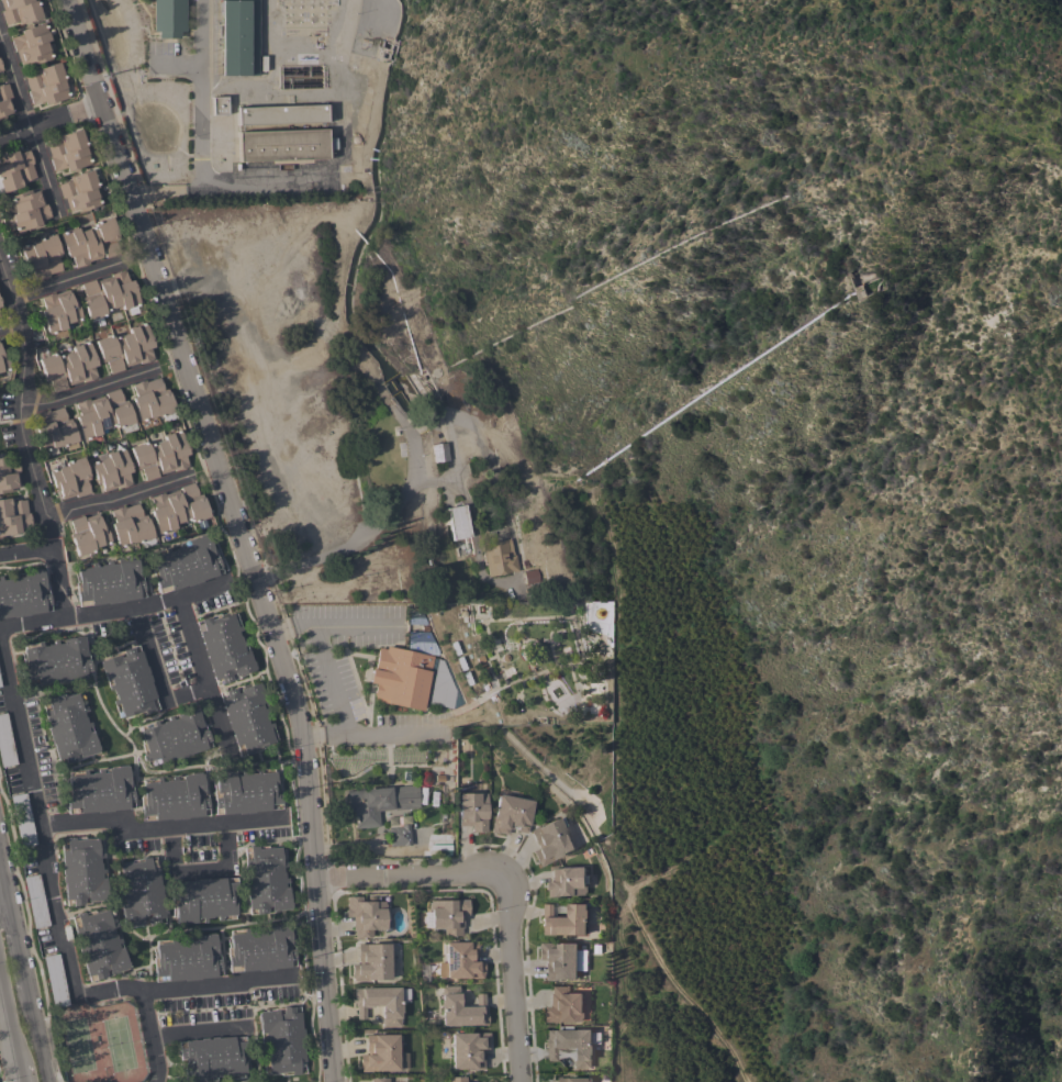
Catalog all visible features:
building: (20, 11)
building: (168, 18)
building: (237, 36)
building: (31, 44)
building: (0, 68)
building: (46, 85)
building: (4, 100)
building: (219, 104)
building: (281, 114)
road: (47, 118)
road: (26, 131)
building: (282, 144)
building: (68, 150)
road: (195, 158)
building: (14, 169)
building: (265, 170)
building: (79, 190)
road: (160, 190)
building: (27, 209)
building: (90, 242)
building: (42, 256)
road: (67, 282)
building: (108, 293)
building: (58, 311)
building: (0, 314)
road: (10, 326)
building: (125, 347)
building: (2, 361)
building: (68, 366)
road: (88, 389)
road: (20, 395)
building: (150, 399)
building: (101, 413)
building: (54, 430)
building: (439, 451)
building: (160, 455)
building: (112, 469)
building: (8, 473)
building: (70, 478)
road: (118, 493)
building: (177, 507)
building: (13, 515)
building: (457, 522)
building: (131, 526)
building: (87, 533)
road: (236, 533)
road: (345, 545)
building: (499, 557)
road: (53, 559)
building: (185, 564)
building: (530, 576)
building: (109, 581)
building: (22, 593)
road: (147, 604)
road: (34, 622)
road: (355, 624)
building: (223, 647)
building: (501, 656)
road: (324, 657)
building: (55, 660)
road: (153, 674)
road: (201, 677)
building: (401, 677)
building: (128, 681)
building: (246, 716)
building: (68, 728)
crop: (843, 729)
road: (368, 732)
building: (175, 737)
building: (5, 743)
building: (99, 790)
building: (245, 791)
building: (174, 797)
building: (379, 802)
building: (472, 811)
building: (510, 814)
building: (22, 819)
road: (156, 828)
building: (399, 835)
building: (550, 840)
building: (81, 871)
road: (410, 875)
building: (265, 880)
building: (566, 882)
road: (4, 888)
building: (139, 893)
building: (202, 900)
building: (35, 901)
road: (54, 901)
road: (4, 912)
building: (365, 915)
building: (447, 915)
building: (563, 921)
building: (98, 944)
building: (260, 949)
road: (16, 952)
building: (187, 958)
building: (461, 960)
building: (561, 960)
building: (370, 961)
road: (661, 964)
road: (506, 978)
building: (55, 980)
road: (221, 985)
building: (379, 1003)
building: (562, 1005)
building: (459, 1007)
road: (11, 1027)
road: (199, 1030)
road: (35, 1037)
building: (281, 1039)
building: (570, 1045)
building: (467, 1049)
building: (381, 1053)
building: (211, 1058)
building: (456, 1079)
building: (570, 1079)
building: (379, 1080)

